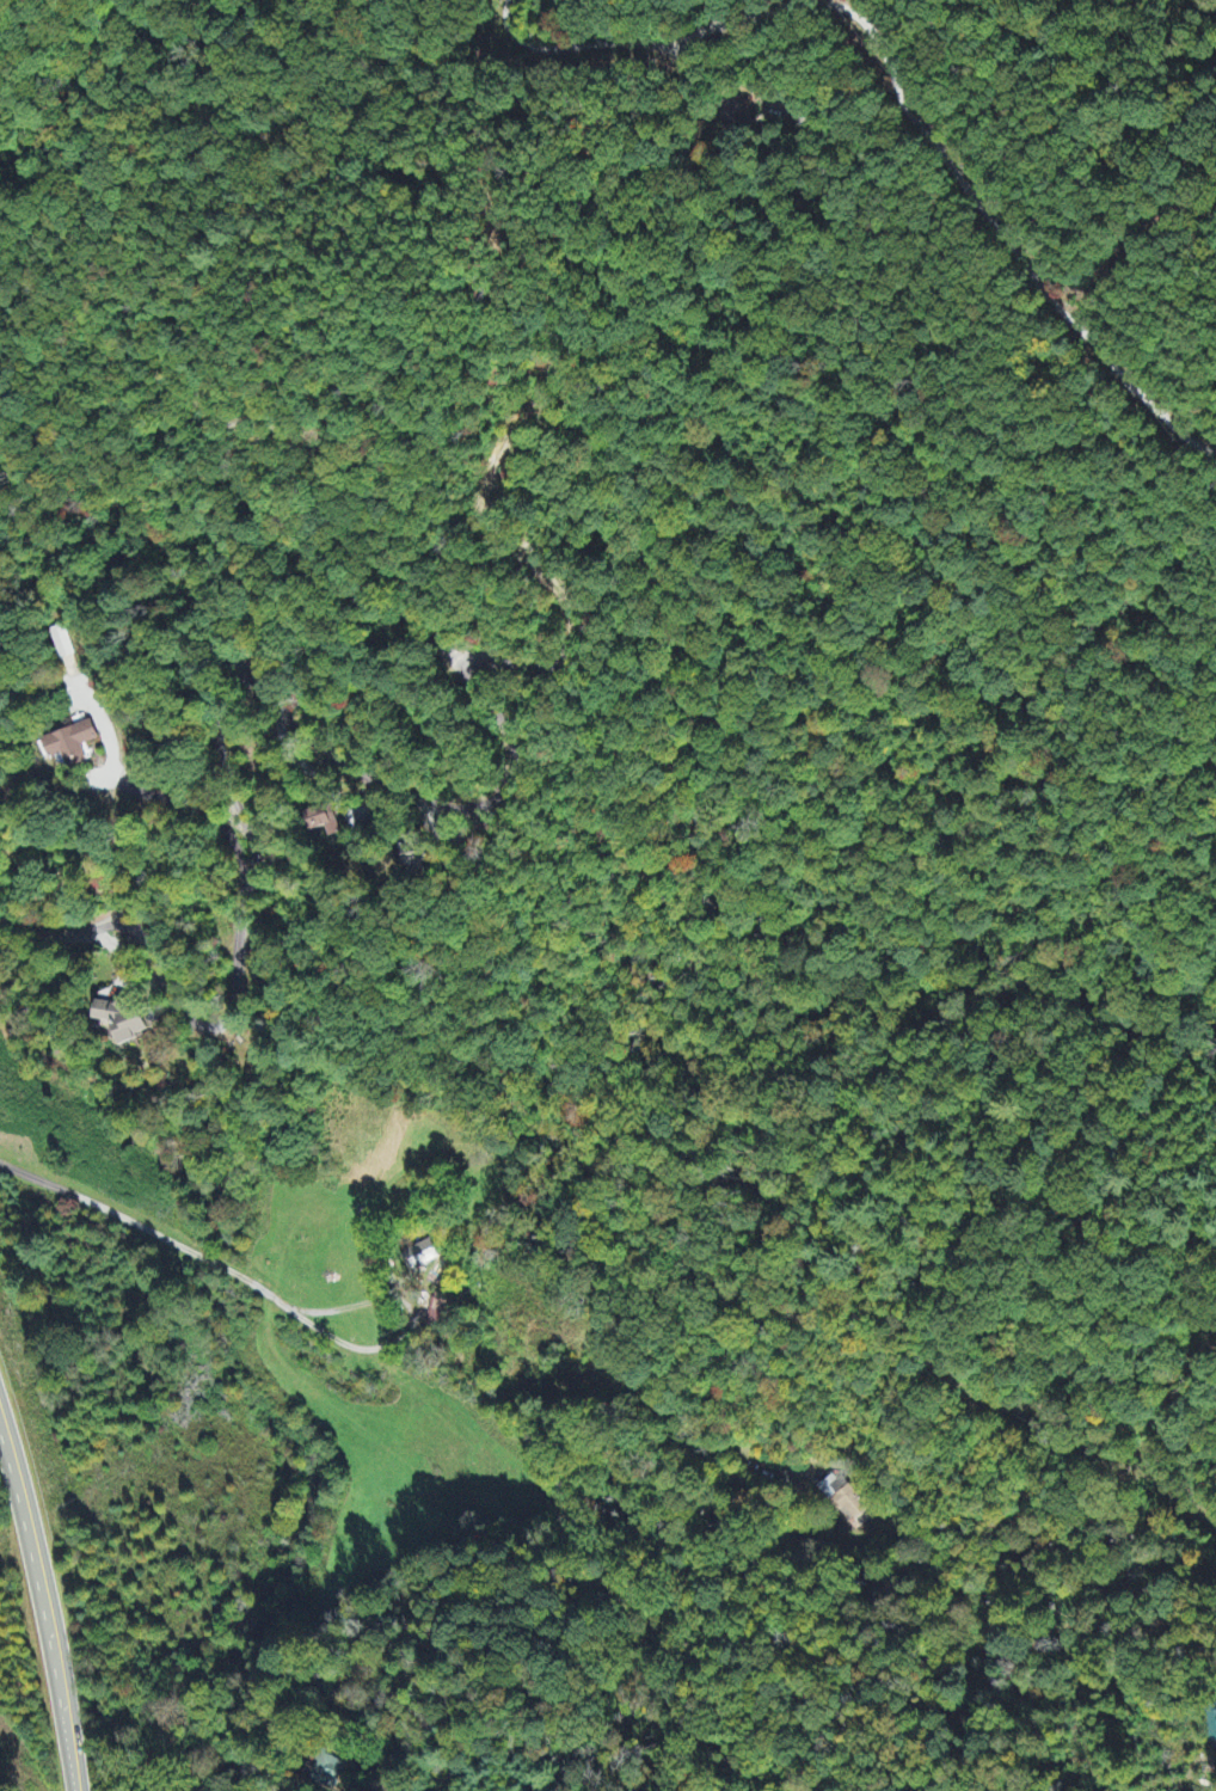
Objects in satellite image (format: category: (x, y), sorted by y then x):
road: (784, 6)
road: (1206, 12)
road: (1095, 68)
road: (956, 174)
road: (532, 404)
road: (910, 540)
road: (269, 698)
building: (69, 743)
building: (324, 822)
building: (414, 852)
building: (121, 1022)
building: (425, 1256)
building: (436, 1313)
building: (845, 1503)
road: (581, 1593)
road: (48, 1607)
building: (330, 1769)

